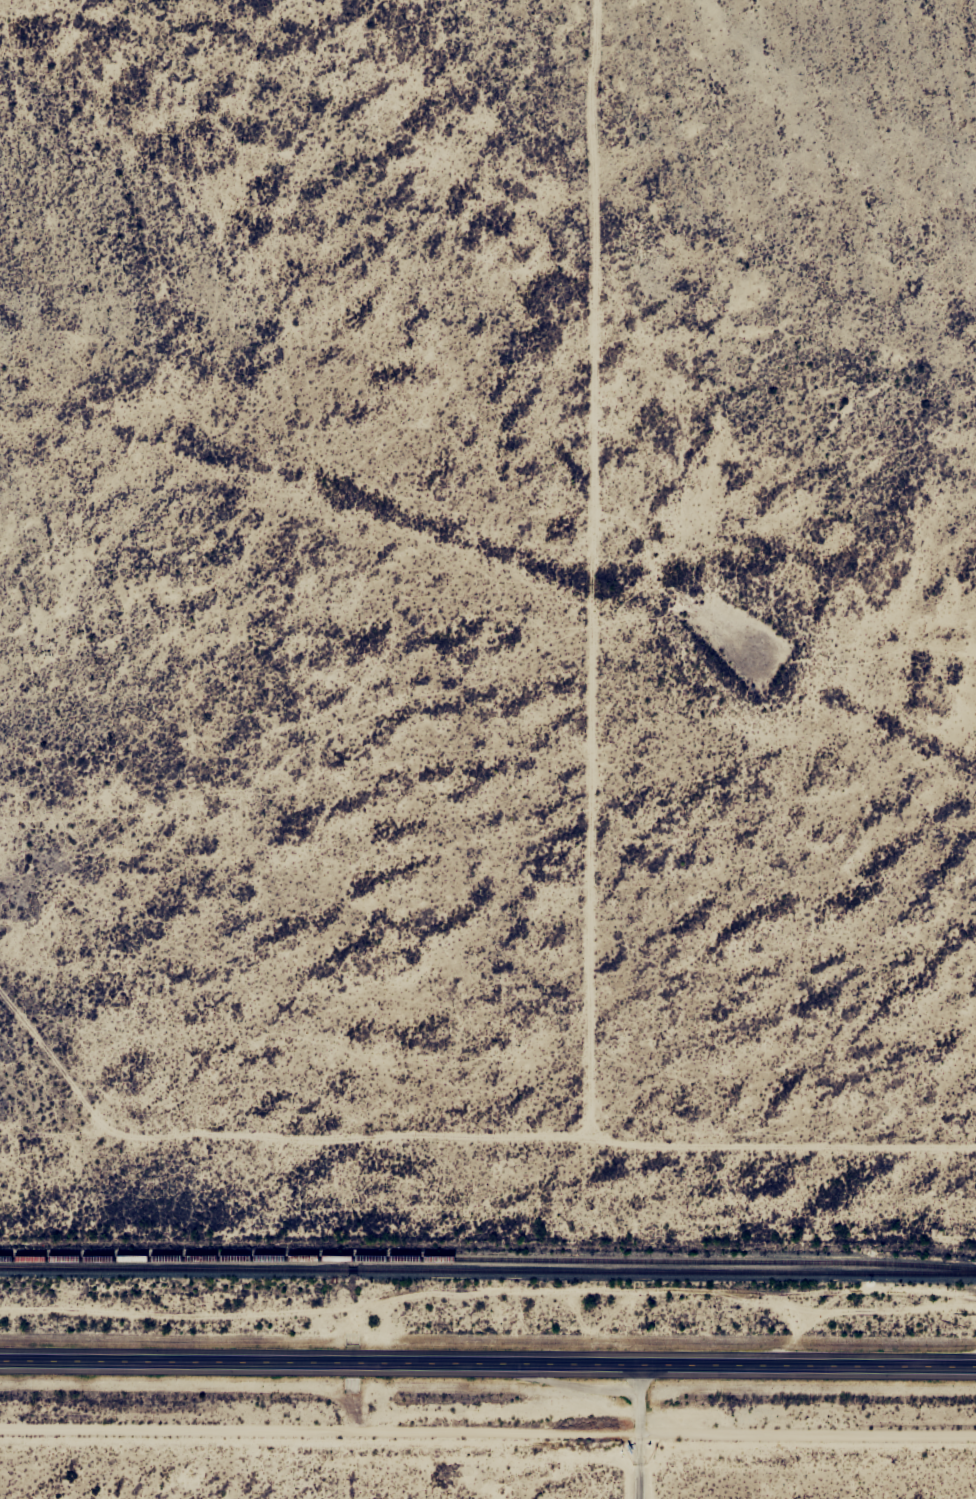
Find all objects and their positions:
railway: (488, 1260)
railway: (488, 1270)
road: (488, 1362)
road: (638, 1431)

